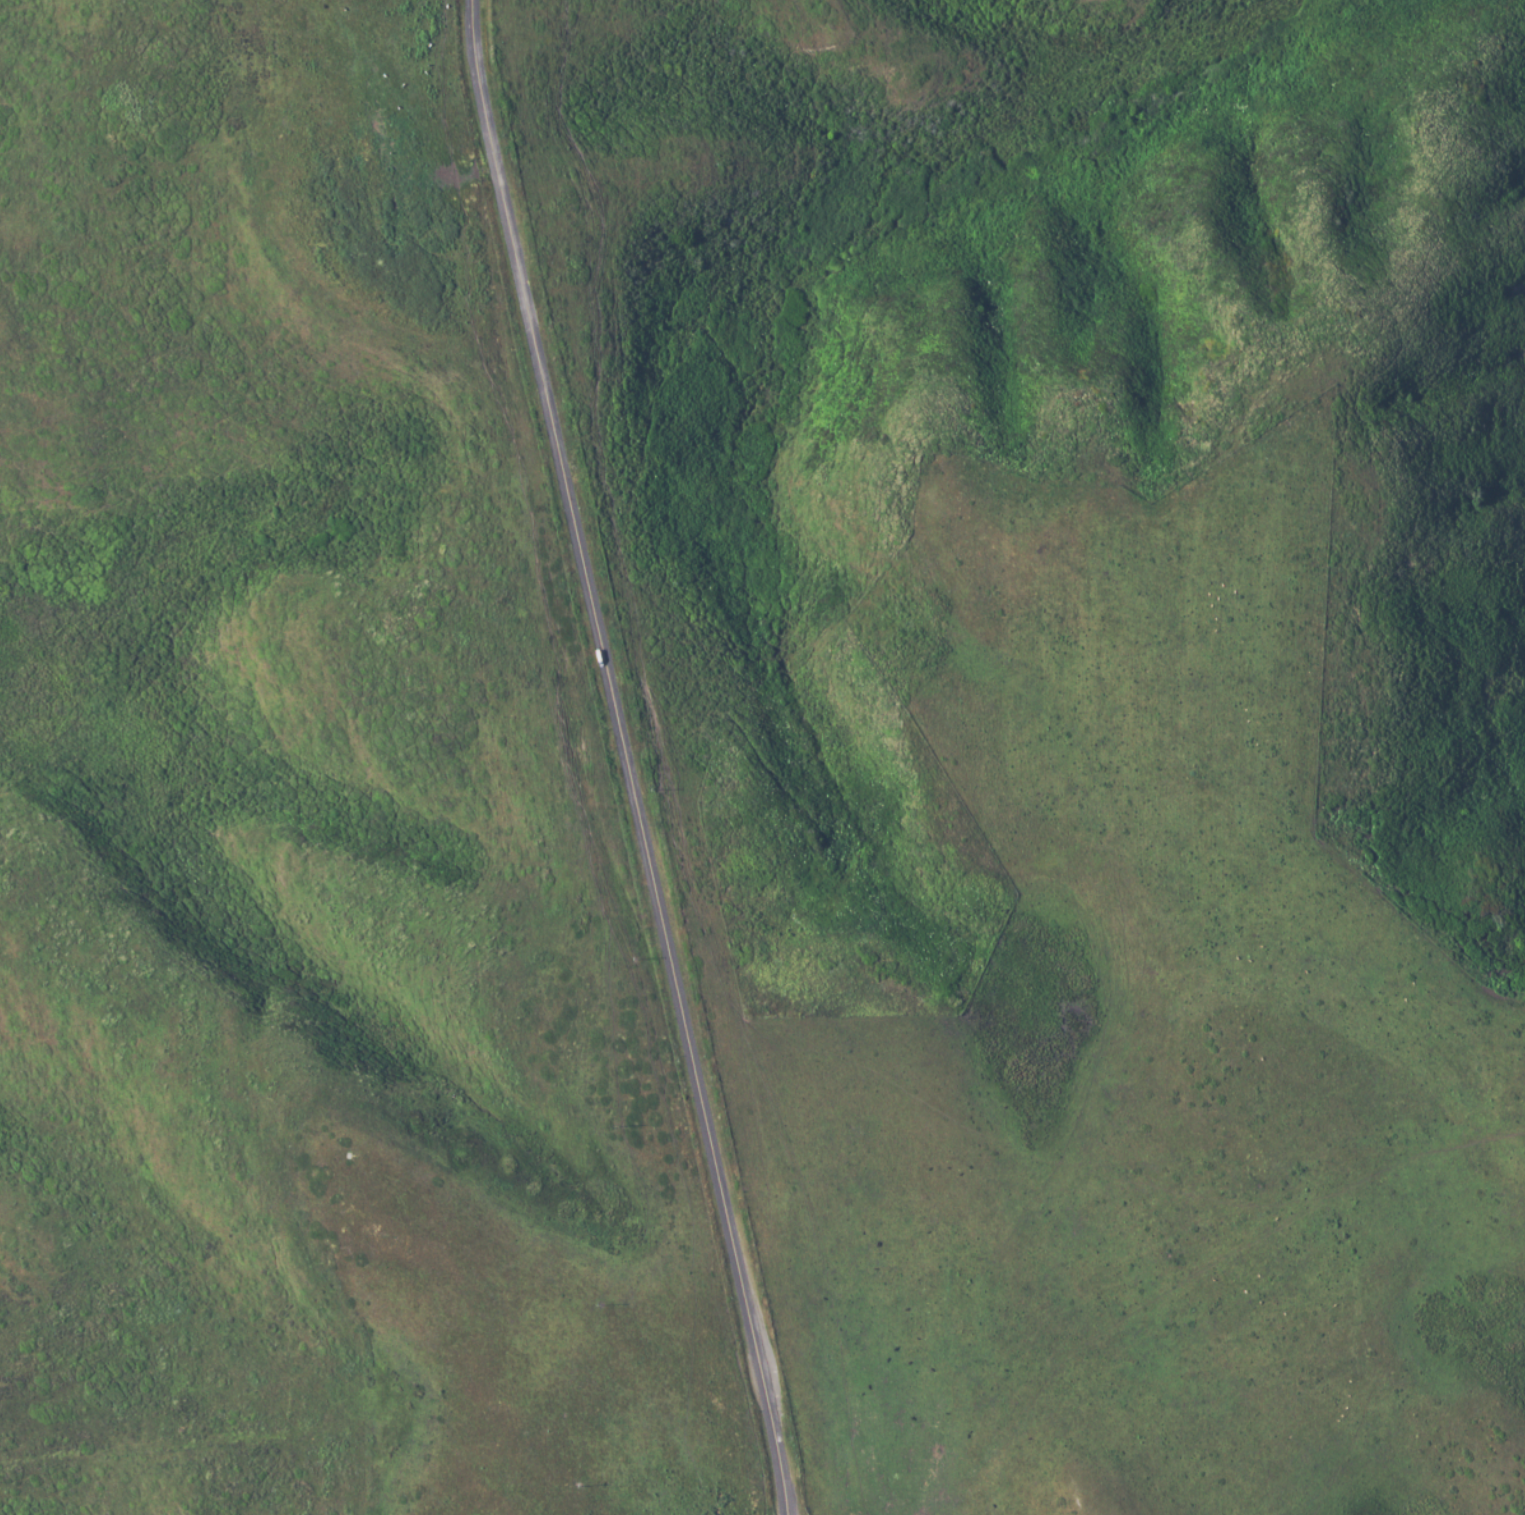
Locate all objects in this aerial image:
road: (625, 757)

